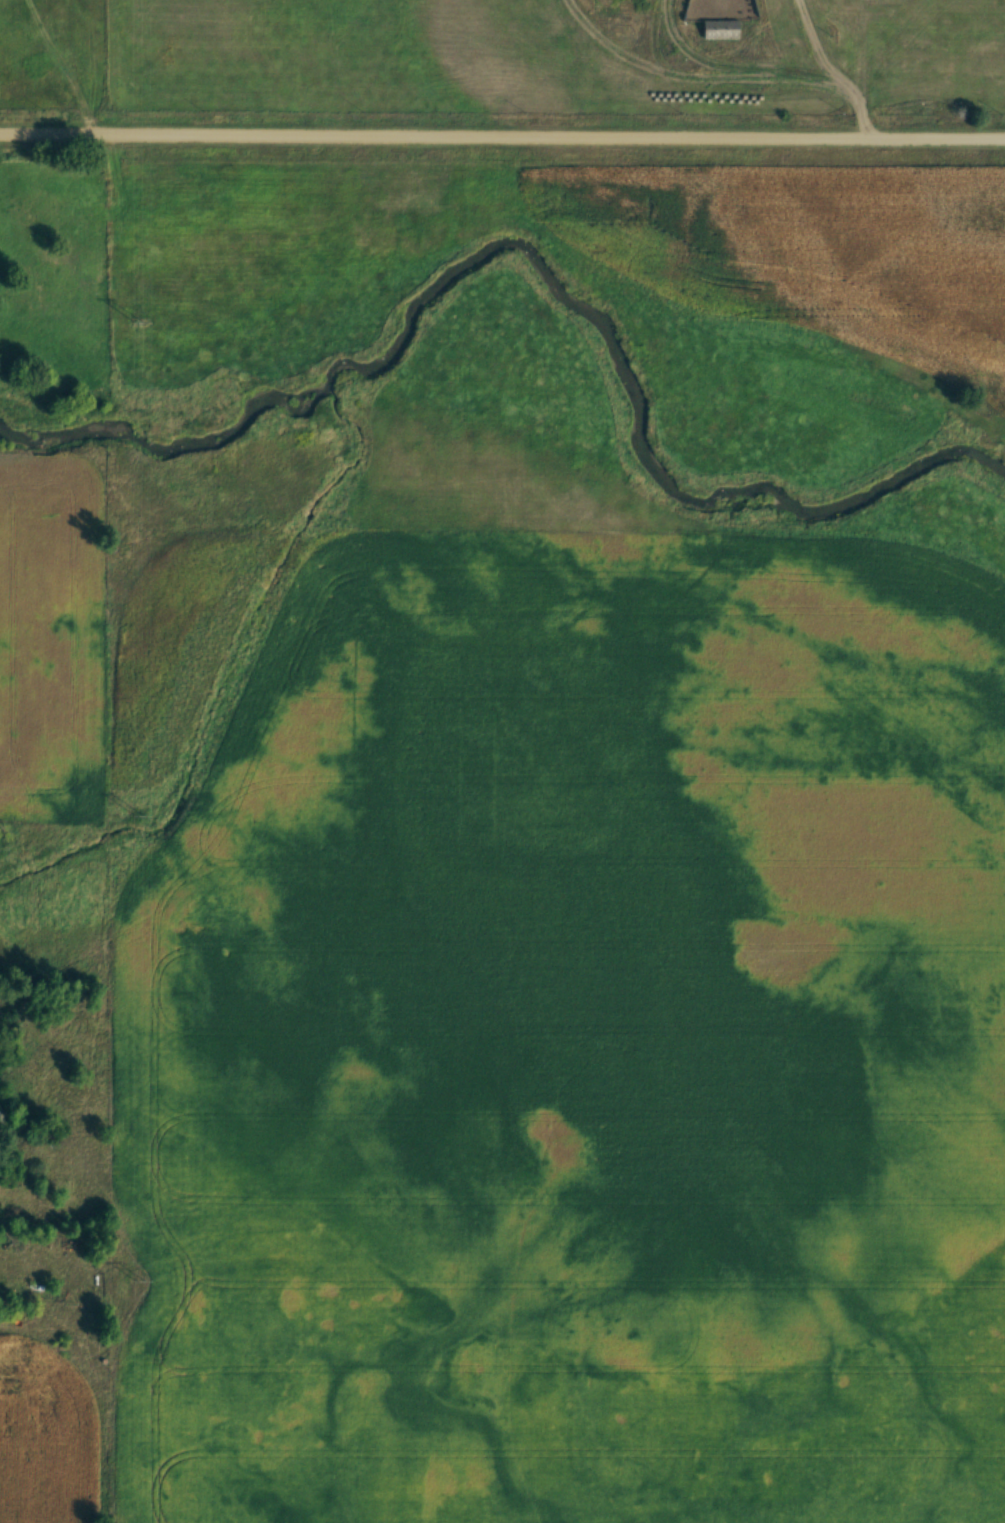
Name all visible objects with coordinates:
building: (723, 31)
road: (862, 67)
road: (502, 138)
power tower: (141, 331)
power tower: (140, 818)
building: (2, 1115)
power tower: (141, 1281)

